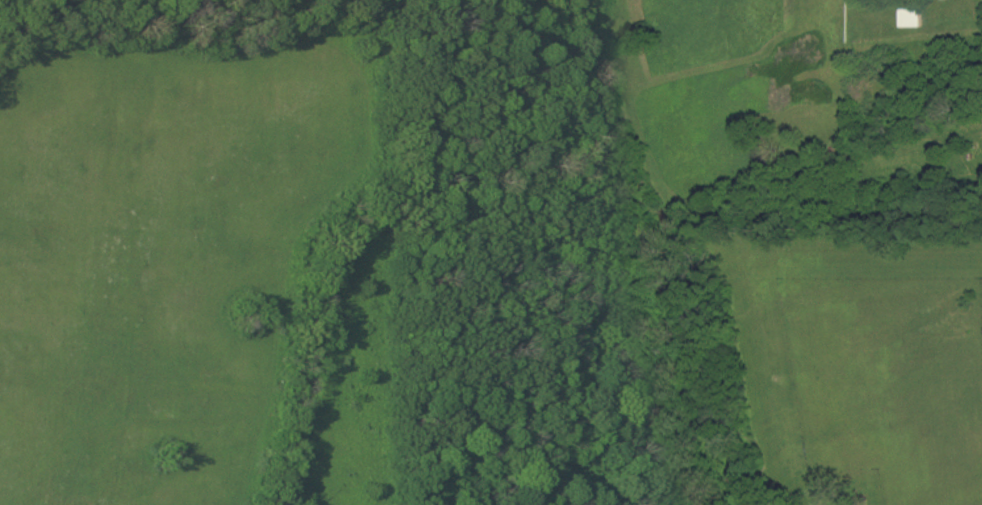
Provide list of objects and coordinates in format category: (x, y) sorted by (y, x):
building: (911, 20)

